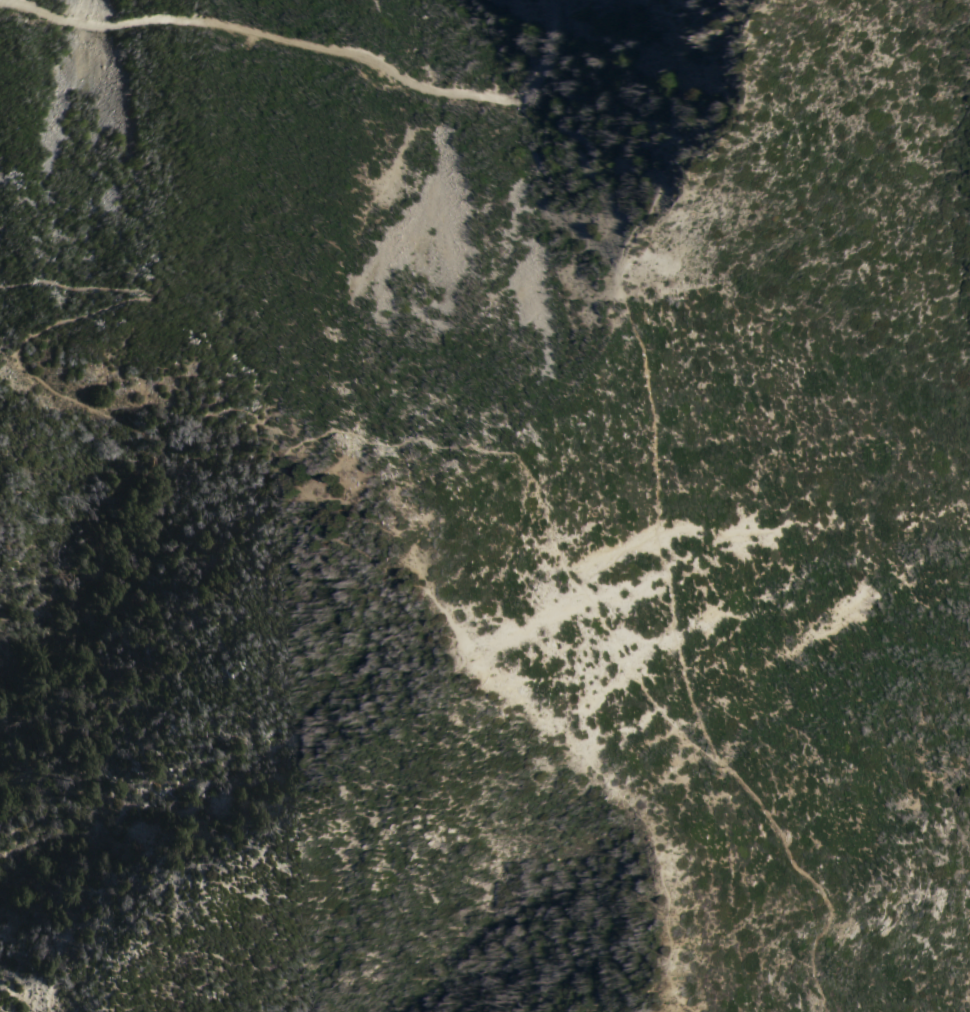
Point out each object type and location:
road: (316, 46)
road: (721, 139)
road: (643, 377)
road: (36, 380)
road: (540, 505)
road: (407, 537)
road: (347, 545)
road: (808, 875)

